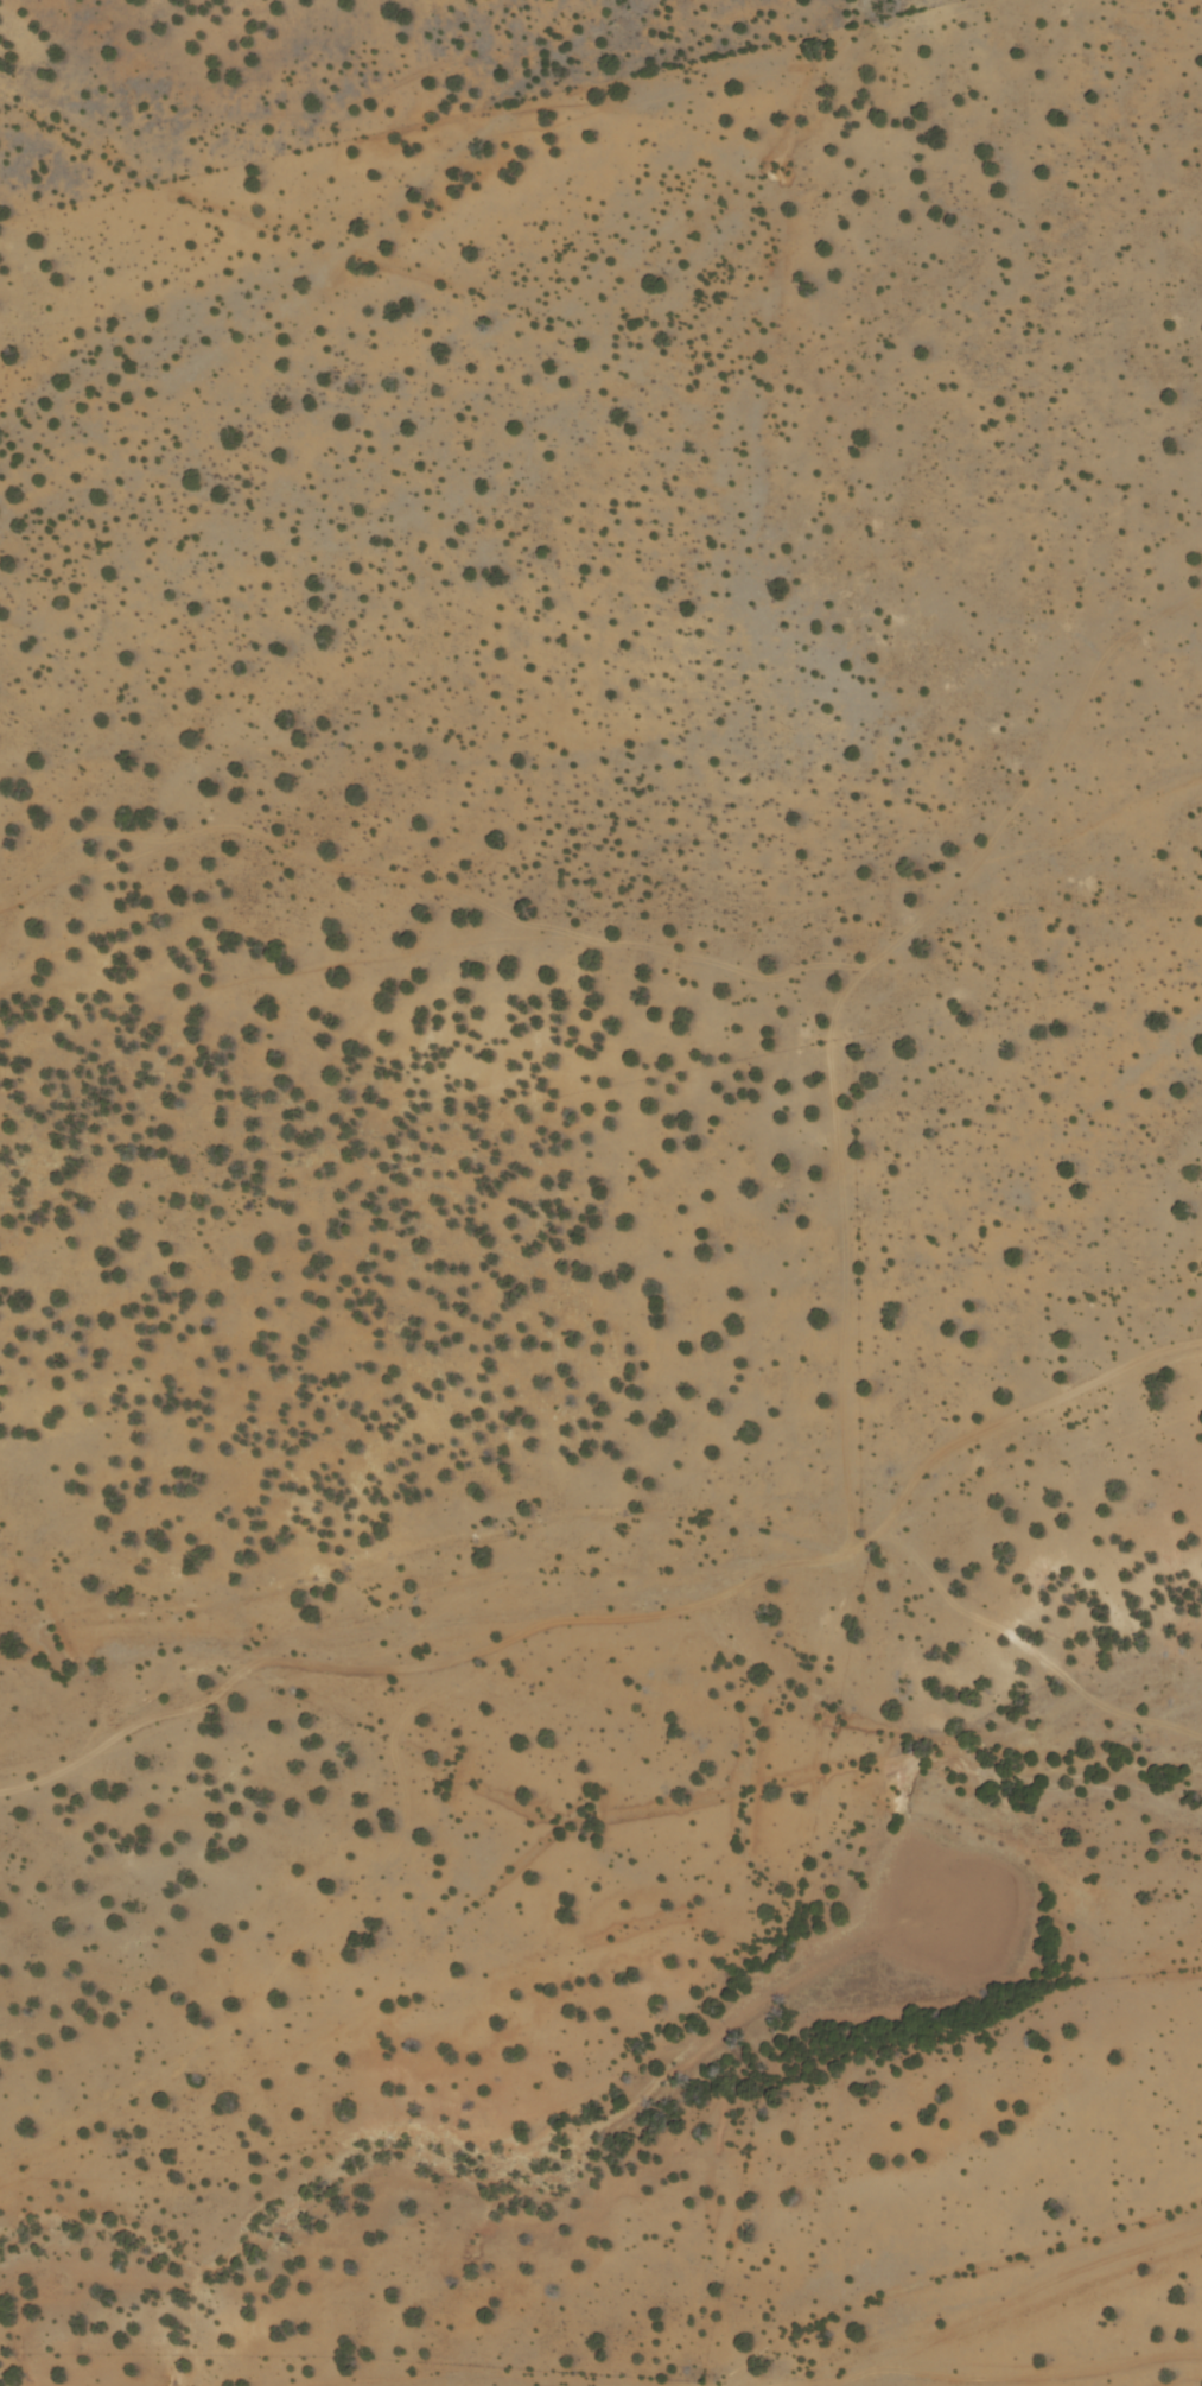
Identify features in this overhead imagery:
road: (700, 2343)
road: (70, 2374)

